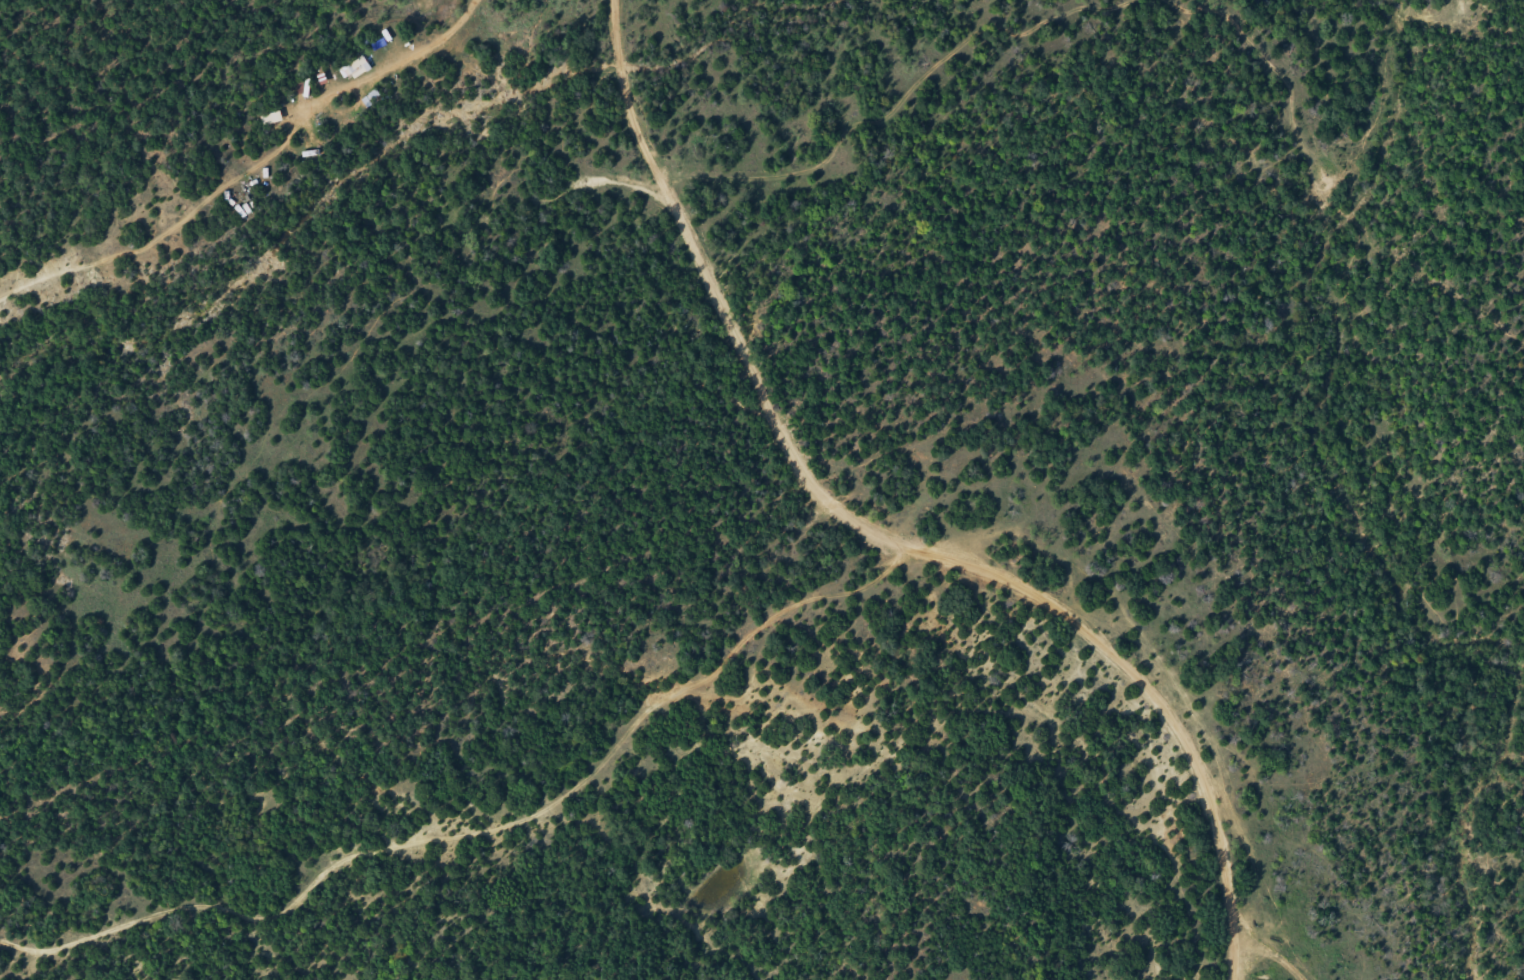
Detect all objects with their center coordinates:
road: (411, 54)
building: (357, 70)
building: (274, 120)

